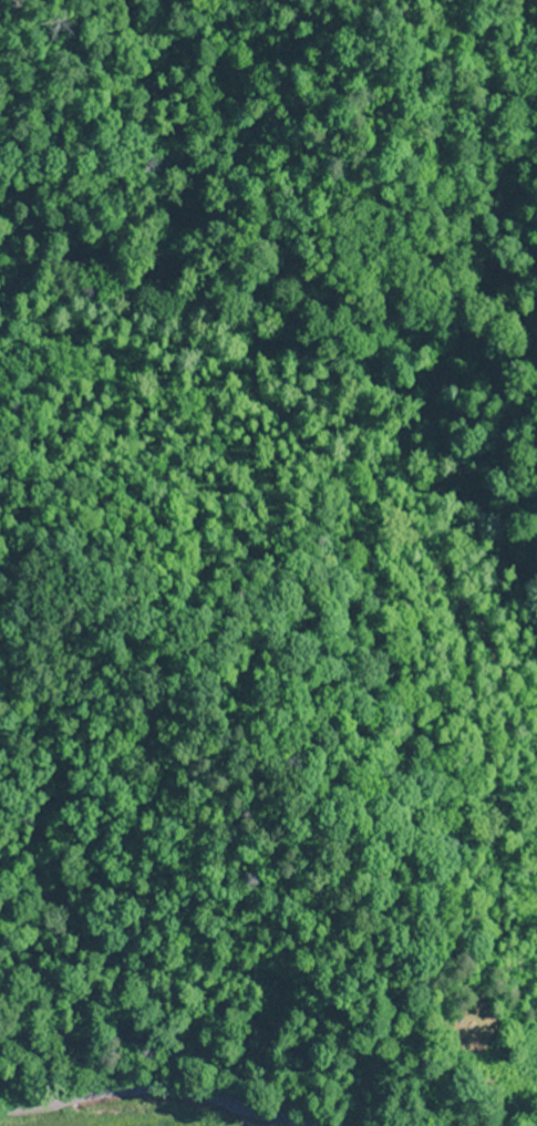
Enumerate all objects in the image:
road: (159, 1093)

